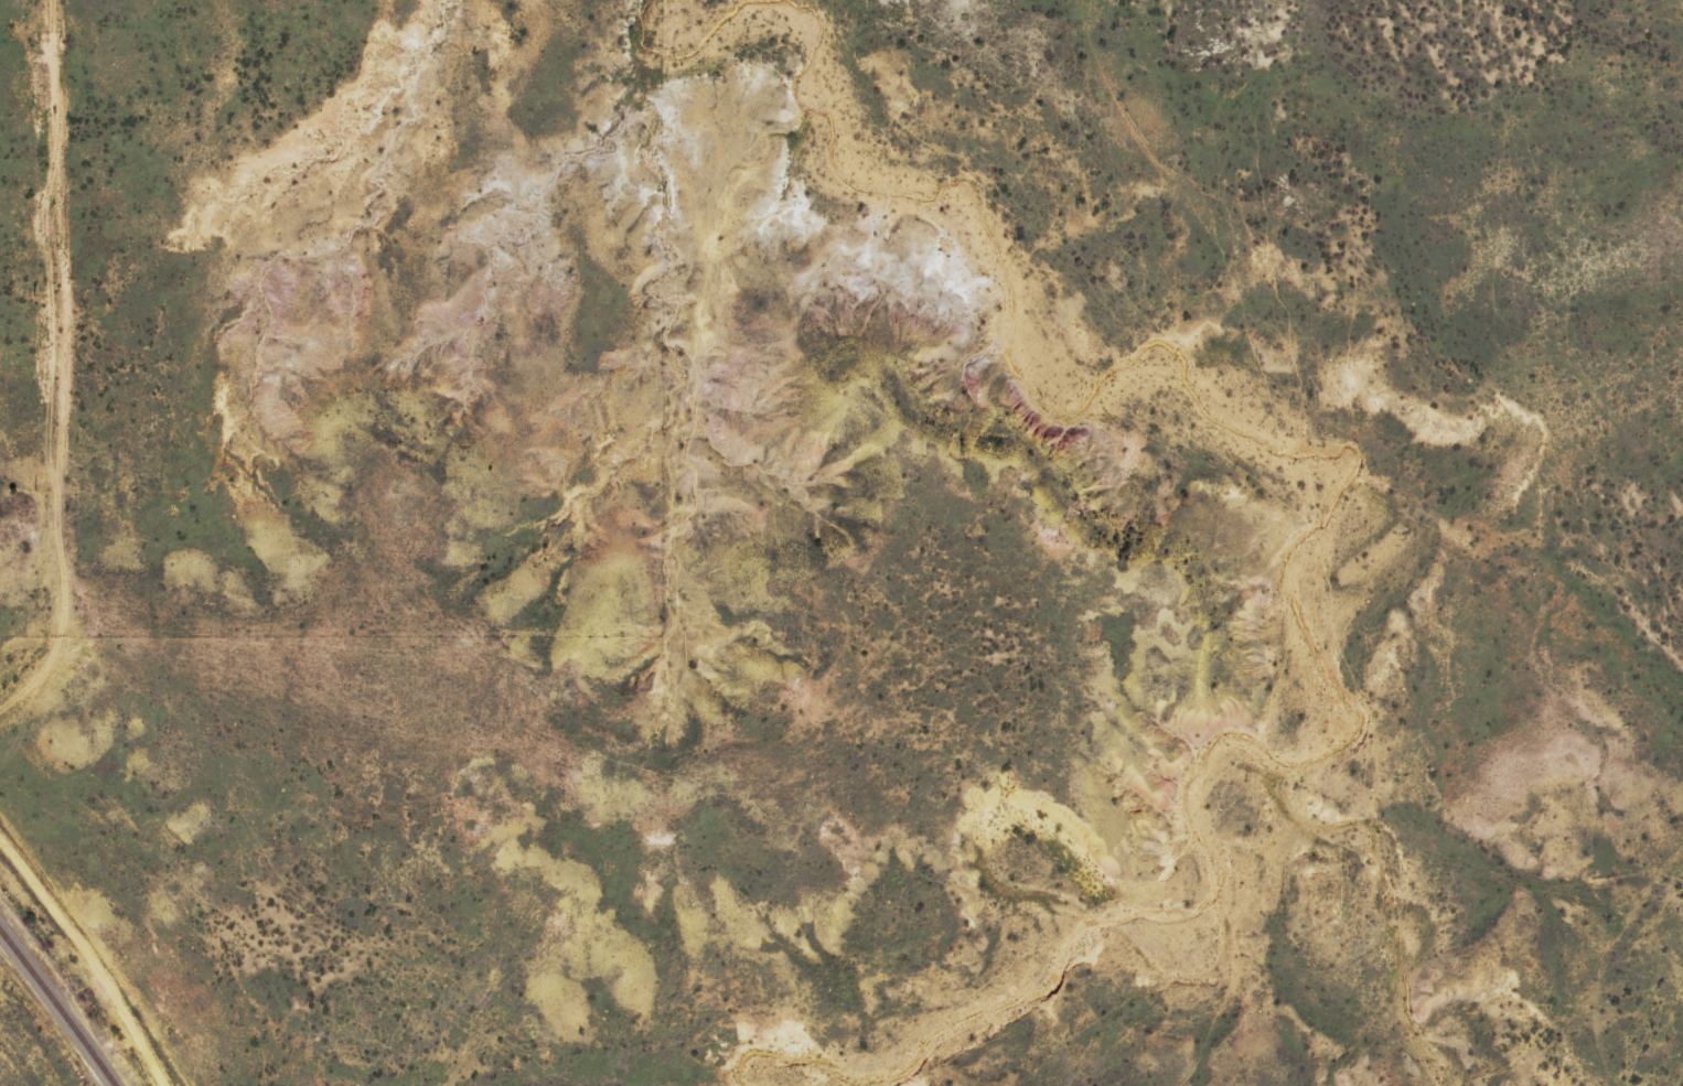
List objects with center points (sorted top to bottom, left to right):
road: (33, 321)
railway: (55, 1011)

